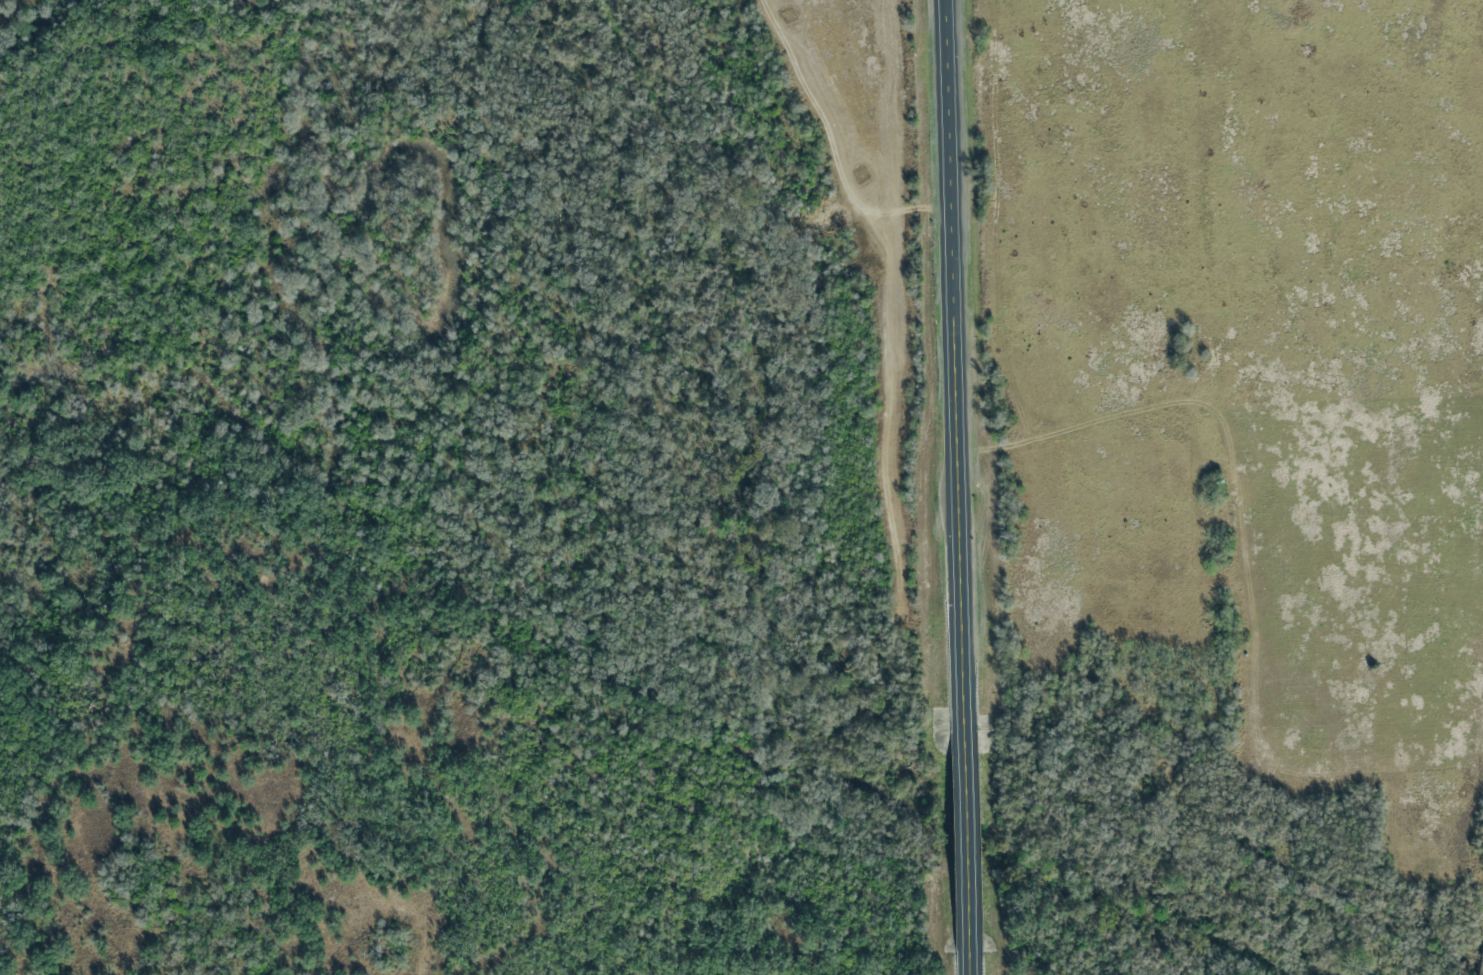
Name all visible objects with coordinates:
road: (957, 487)

